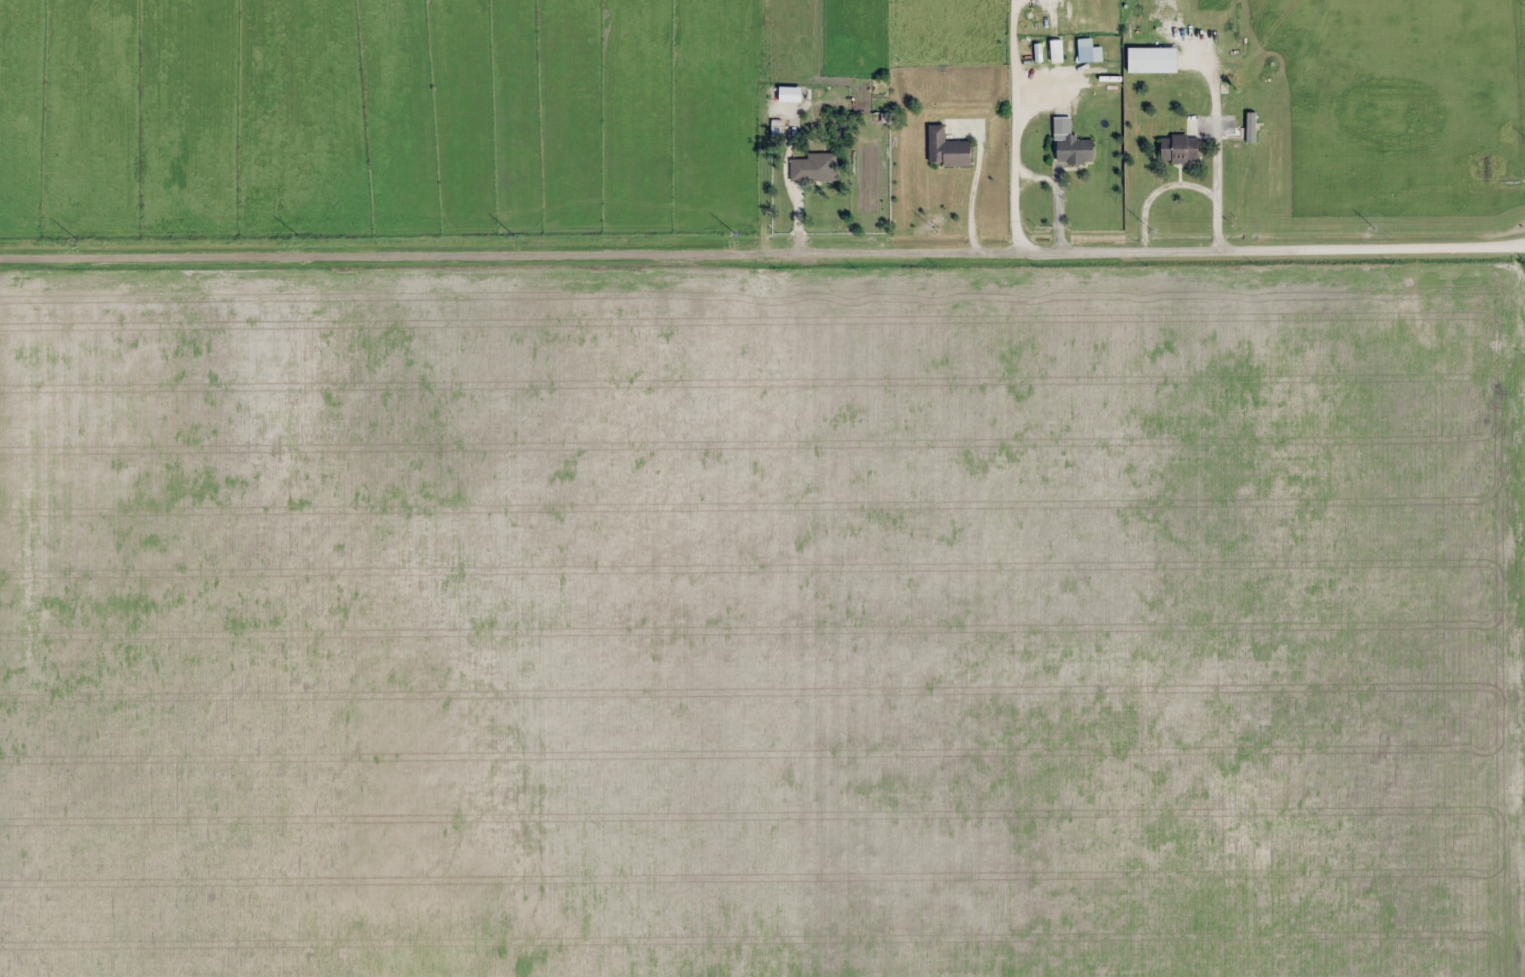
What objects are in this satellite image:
building: (1056, 50)
building: (1224, 72)
building: (1180, 148)
building: (947, 149)
building: (1075, 150)
building: (812, 168)
road: (762, 242)
building: (1431, 307)
building: (1479, 313)

